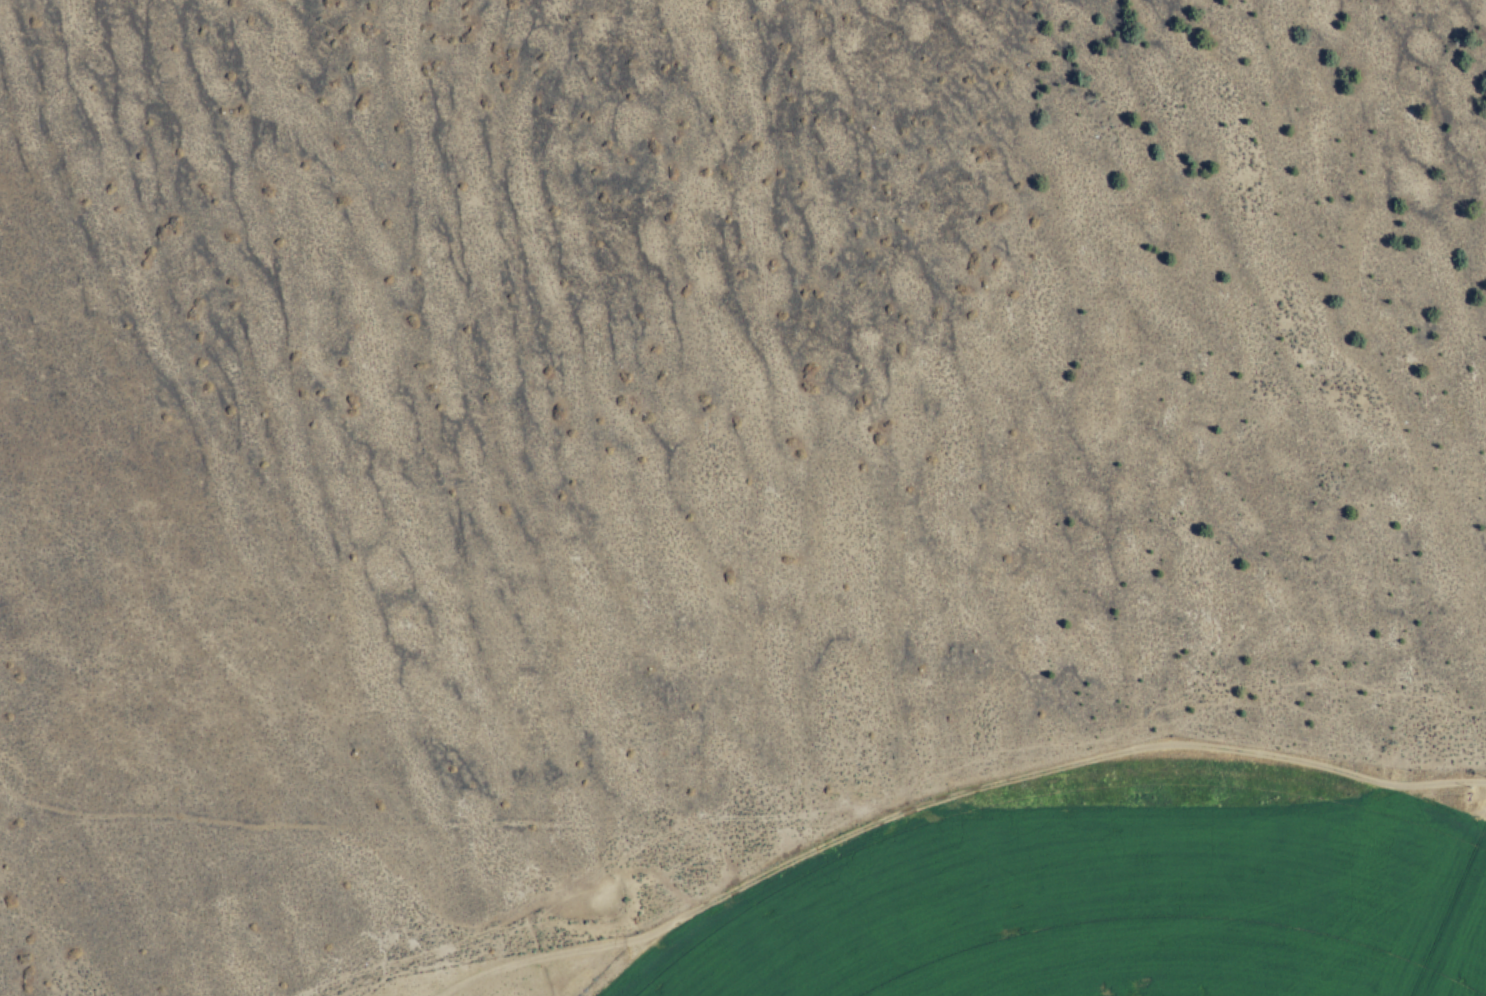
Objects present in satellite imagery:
road: (1470, 793)

